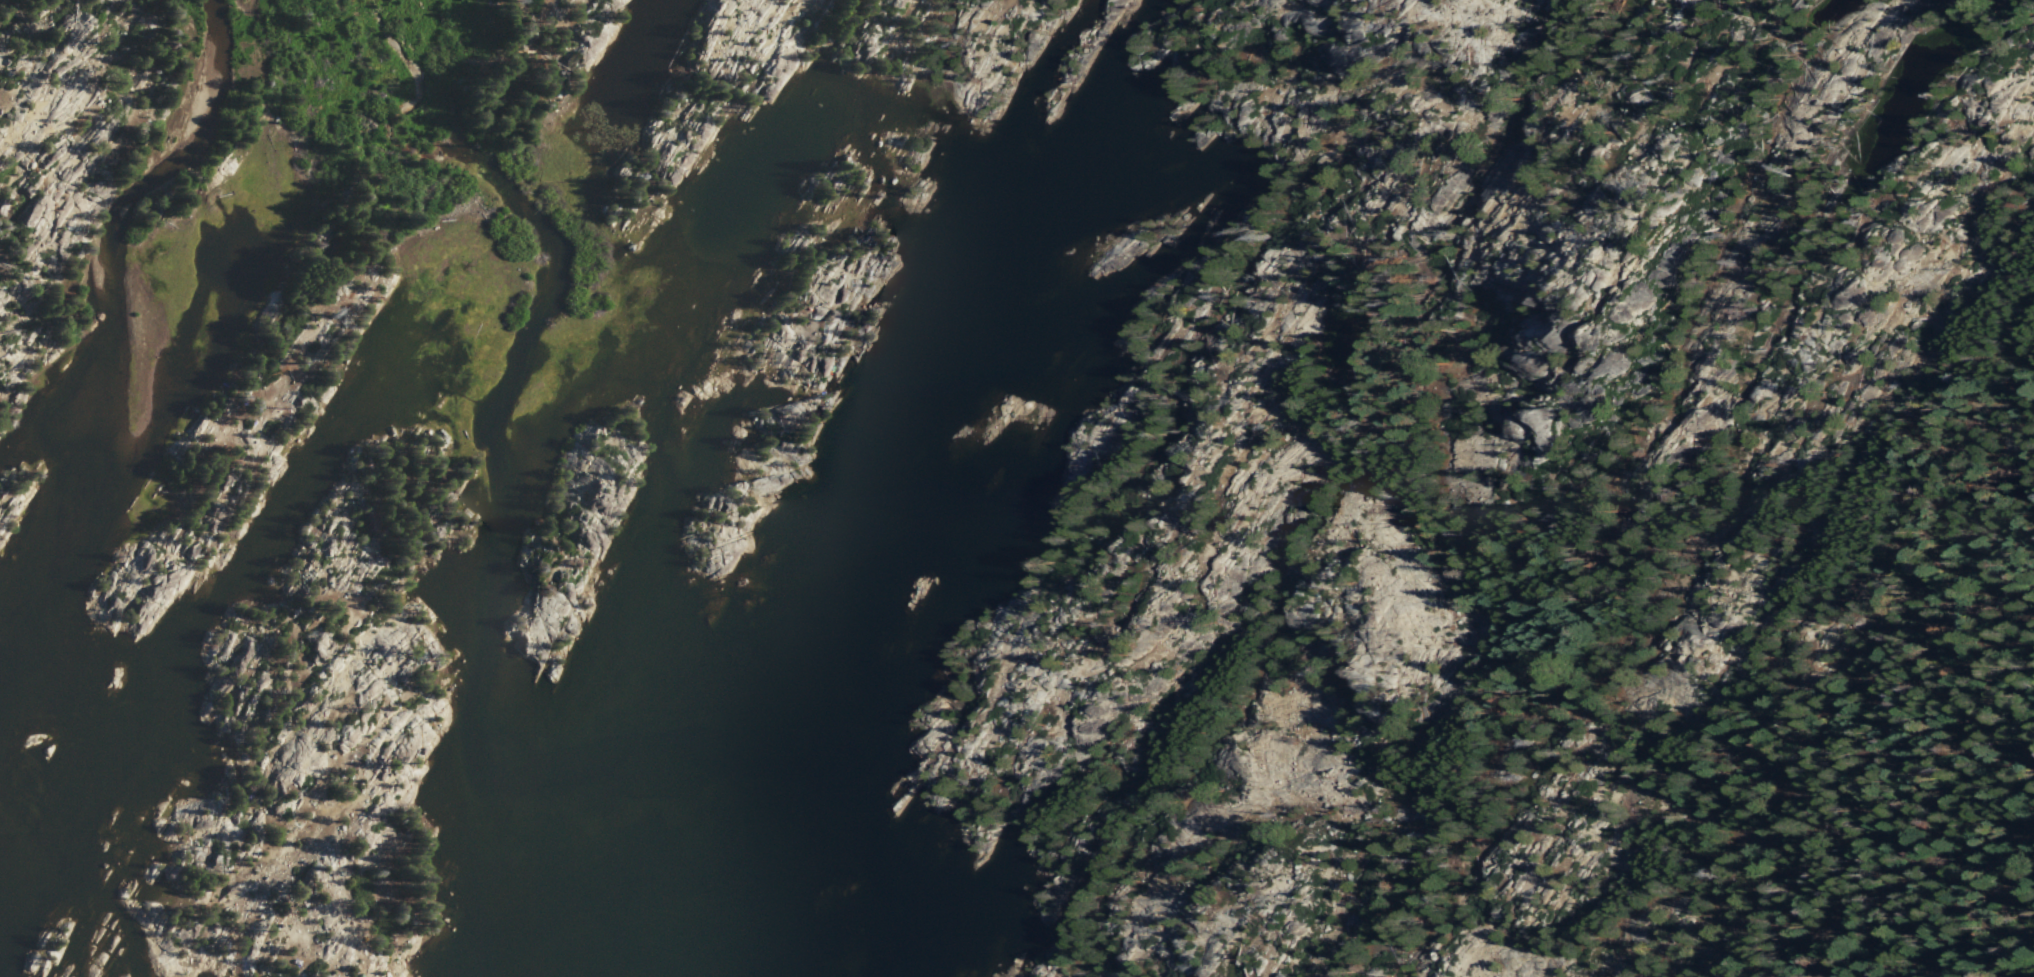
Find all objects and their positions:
road: (1833, 685)

